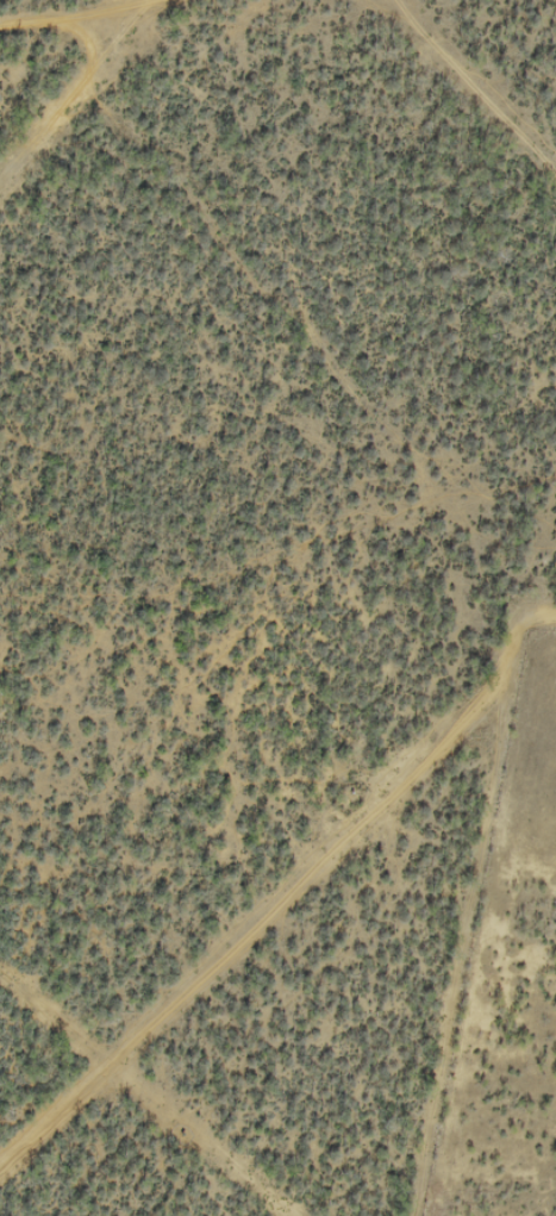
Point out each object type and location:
road: (170, 44)

